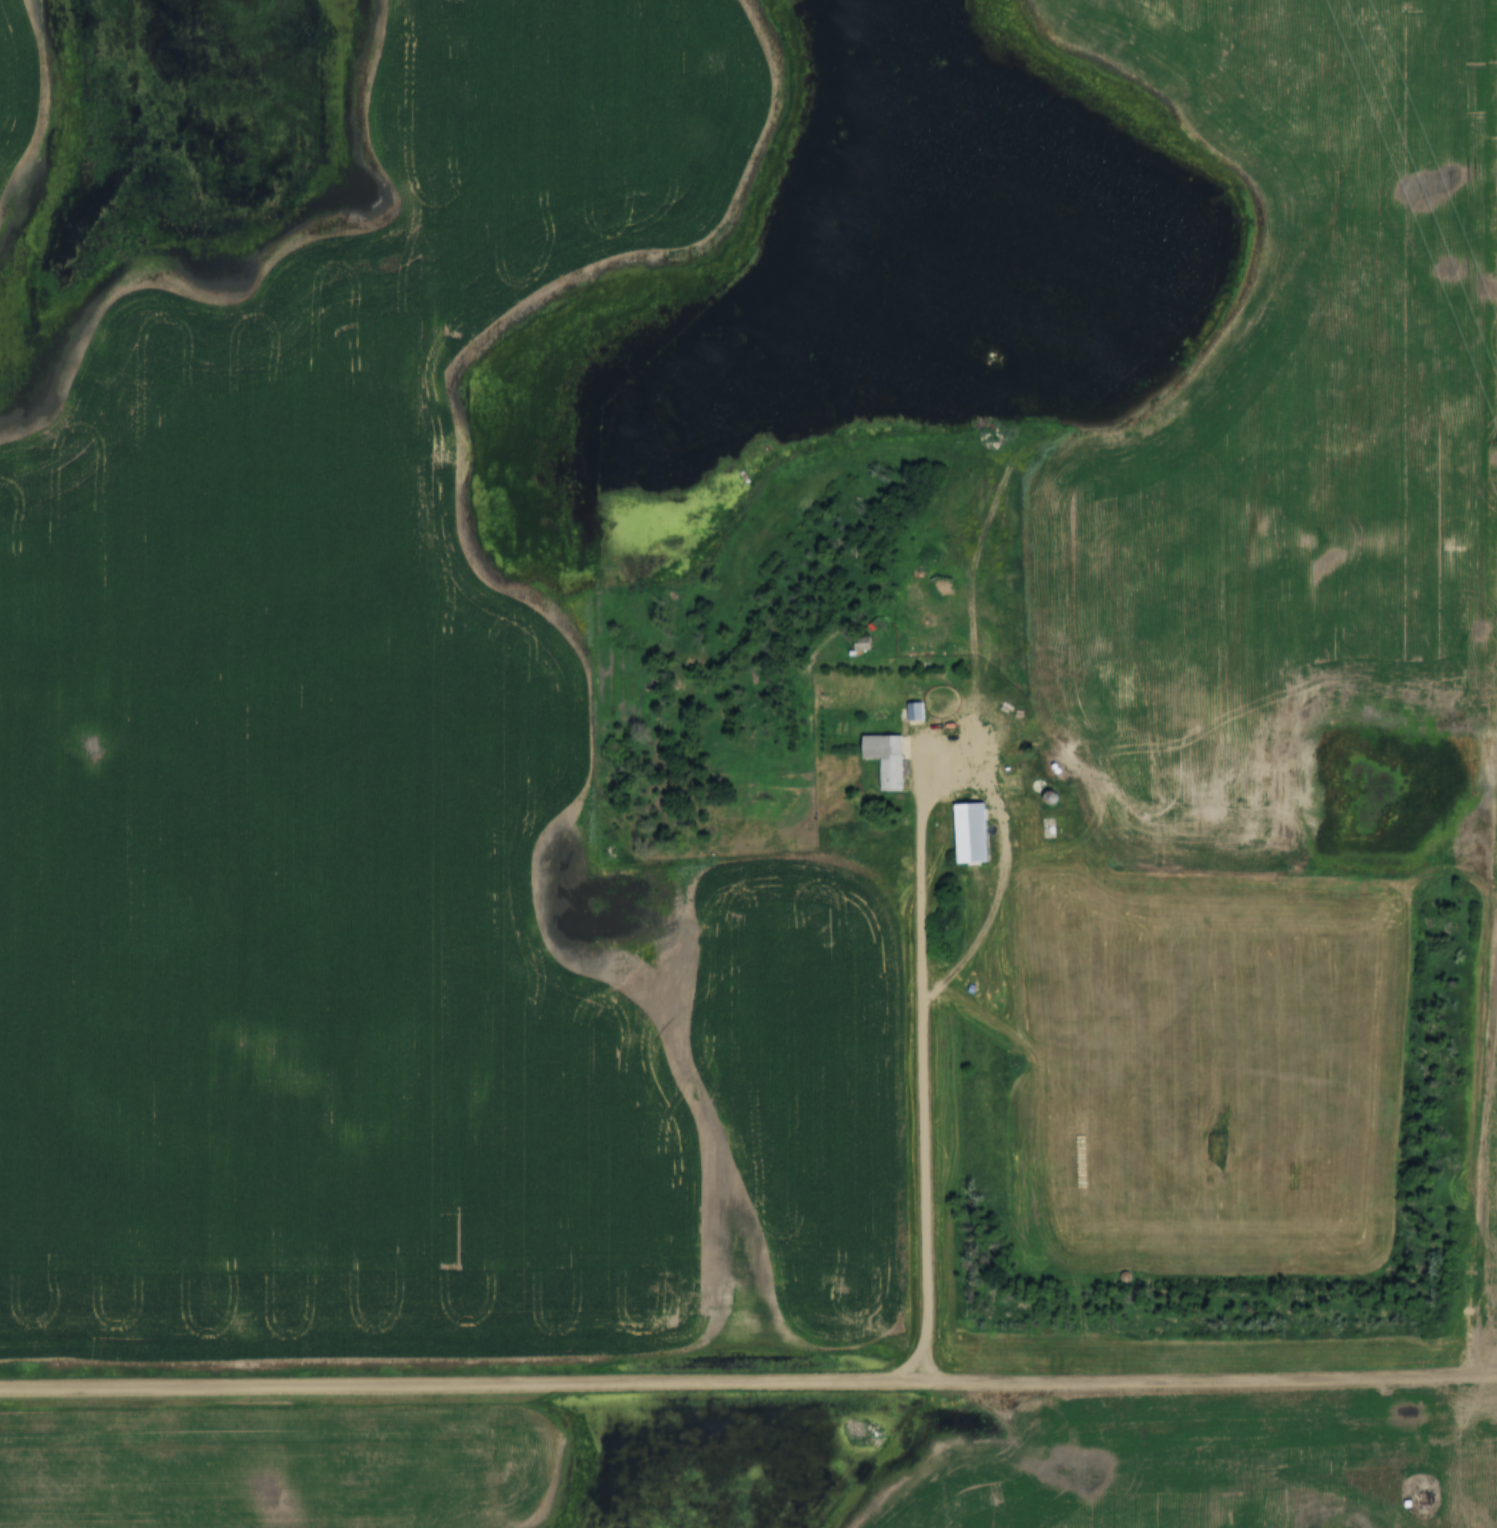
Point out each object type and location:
building: (860, 644)
building: (914, 711)
building: (885, 759)
building: (969, 832)
road: (923, 1056)
road: (748, 1383)

